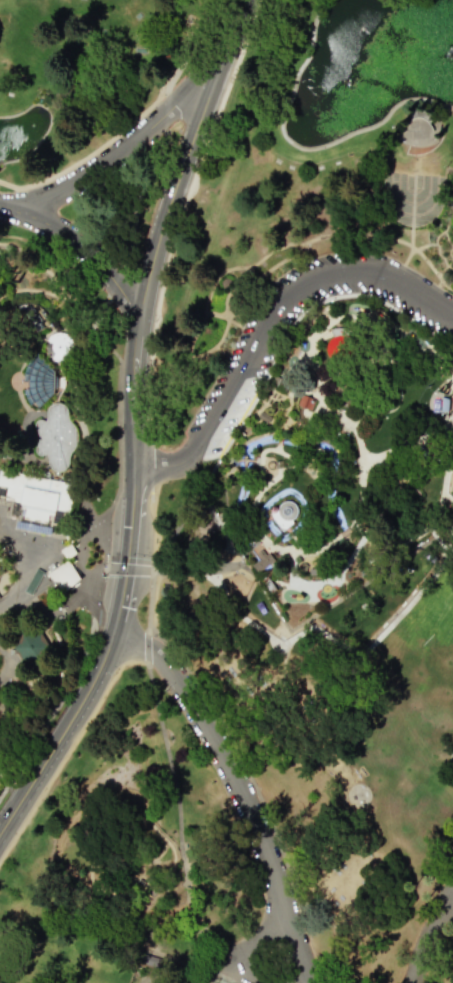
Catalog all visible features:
road: (228, 36)
road: (186, 50)
road: (166, 89)
road: (165, 112)
building: (421, 113)
road: (123, 147)
road: (300, 148)
road: (84, 157)
road: (405, 185)
road: (420, 185)
road: (398, 192)
road: (428, 193)
road: (135, 197)
road: (391, 199)
road: (433, 201)
road: (412, 211)
road: (446, 228)
road: (446, 239)
road: (81, 246)
road: (408, 256)
road: (55, 257)
road: (440, 257)
road: (34, 264)
road: (432, 269)
road: (366, 271)
road: (113, 282)
road: (25, 289)
road: (71, 299)
road: (328, 309)
road: (91, 315)
road: (361, 318)
road: (381, 332)
building: (358, 342)
road: (105, 343)
building: (59, 344)
building: (342, 346)
road: (306, 356)
road: (24, 361)
road: (381, 362)
road: (352, 366)
road: (269, 367)
road: (314, 367)
road: (296, 370)
road: (385, 370)
road: (11, 378)
road: (17, 379)
building: (39, 379)
road: (301, 389)
road: (313, 392)
road: (269, 395)
road: (270, 396)
road: (285, 396)
road: (288, 396)
road: (21, 397)
road: (370, 397)
building: (307, 400)
building: (446, 402)
road: (270, 403)
road: (365, 404)
road: (395, 405)
road: (76, 407)
road: (221, 407)
road: (288, 409)
road: (430, 411)
road: (306, 412)
building: (265, 415)
road: (301, 423)
building: (321, 426)
road: (283, 432)
building: (57, 435)
road: (256, 435)
road: (281, 437)
road: (31, 438)
road: (410, 443)
road: (278, 446)
road: (285, 450)
road: (362, 451)
theme park: (342, 454)
road: (389, 455)
road: (291, 456)
road: (240, 457)
road: (237, 458)
road: (35, 459)
building: (244, 459)
road: (248, 459)
road: (247, 460)
road: (257, 460)
road: (134, 461)
building: (279, 462)
road: (351, 462)
road: (388, 462)
road: (118, 464)
road: (338, 464)
road: (332, 467)
road: (261, 469)
road: (325, 469)
road: (362, 469)
road: (391, 476)
road: (224, 484)
road: (259, 490)
park: (226, 491)
building: (37, 492)
road: (448, 495)
road: (397, 503)
road: (446, 508)
building: (285, 512)
road: (270, 513)
road: (271, 515)
road: (2, 517)
road: (435, 517)
road: (266, 518)
road: (95, 521)
road: (260, 521)
road: (264, 521)
road: (218, 522)
road: (263, 522)
building: (447, 522)
road: (349, 524)
road: (210, 526)
road: (345, 530)
road: (290, 531)
building: (71, 533)
road: (190, 533)
road: (1, 534)
road: (295, 534)
road: (6, 539)
road: (409, 542)
road: (47, 544)
road: (251, 545)
road: (31, 546)
building: (69, 548)
road: (318, 549)
road: (79, 550)
road: (286, 550)
road: (245, 552)
road: (81, 554)
building: (385, 554)
road: (188, 556)
building: (264, 558)
building: (372, 558)
building: (15, 560)
building: (302, 566)
road: (127, 567)
road: (213, 567)
road: (167, 569)
building: (313, 569)
building: (66, 571)
road: (96, 571)
road: (23, 575)
road: (292, 578)
building: (35, 579)
road: (281, 580)
road: (279, 583)
road: (290, 583)
building: (270, 584)
road: (299, 587)
road: (282, 589)
building: (296, 594)
road: (150, 600)
road: (297, 601)
road: (90, 604)
road: (328, 604)
road: (36, 608)
road: (147, 639)
building: (32, 644)
road: (8, 651)
road: (147, 655)
road: (66, 687)
road: (70, 748)
road: (239, 788)
road: (9, 793)
road: (178, 813)
road: (1, 856)
road: (448, 884)
road: (447, 893)
parking lot: (445, 894)
road: (451, 896)
road: (425, 937)
road: (259, 940)
road: (166, 956)
building: (148, 958)
road: (214, 972)
theme park: (169, 973)
railway: (162, 974)
building: (159, 979)
road: (224, 979)
road: (164, 981)
road: (220, 981)
road: (151, 982)
road: (171, 982)
road: (223, 982)

